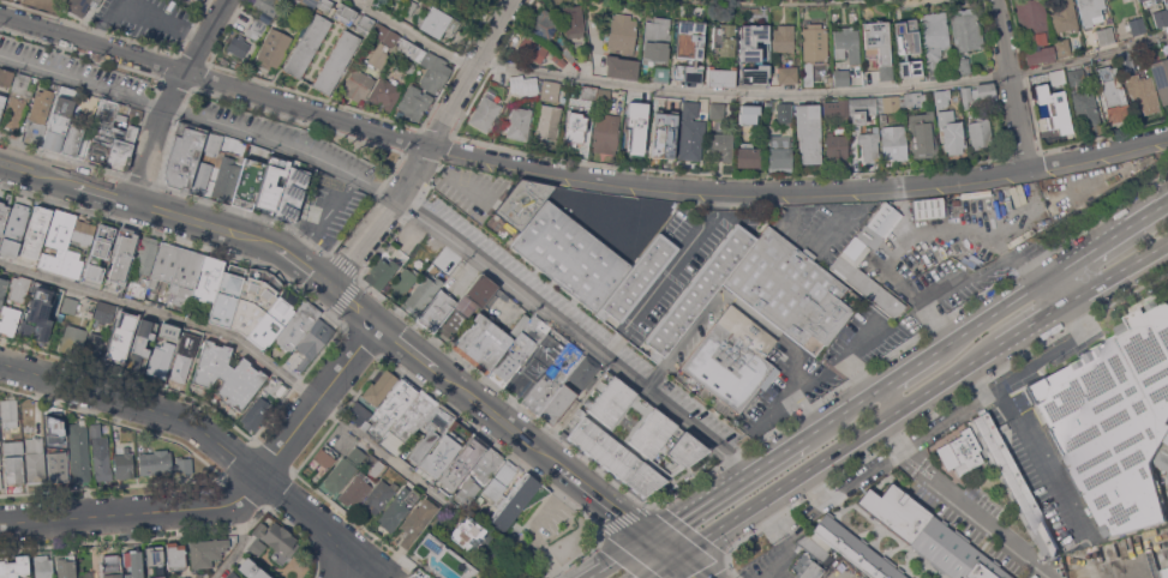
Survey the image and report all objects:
road: (654, 0)
building: (1139, 0)
building: (1156, 0)
building: (198, 1)
road: (366, 2)
building: (309, 4)
road: (761, 4)
building: (79, 5)
building: (325, 5)
building: (268, 6)
building: (1167, 6)
building: (1091, 11)
building: (345, 13)
building: (1065, 17)
building: (1161, 17)
building: (433, 20)
building: (573, 20)
building: (545, 23)
building: (365, 24)
building: (1137, 25)
building: (257, 29)
building: (966, 29)
building: (1037, 31)
building: (622, 32)
building: (384, 34)
road: (413, 34)
building: (1106, 35)
building: (904, 36)
building: (934, 36)
building: (784, 38)
building: (657, 40)
building: (723, 40)
building: (753, 42)
building: (689, 43)
building: (815, 43)
building: (307, 44)
building: (847, 44)
building: (238, 46)
building: (879, 46)
building: (1062, 47)
building: (274, 48)
building: (532, 49)
building: (412, 50)
building: (582, 54)
building: (379, 55)
building: (569, 55)
building: (335, 60)
building: (558, 60)
building: (1127, 62)
building: (963, 66)
building: (622, 67)
building: (435, 72)
building: (783, 73)
building: (910, 73)
building: (688, 74)
building: (755, 74)
building: (660, 76)
building: (720, 76)
building: (6, 77)
building: (840, 77)
road: (214, 78)
building: (1056, 78)
building: (1161, 78)
building: (358, 84)
road: (1010, 84)
building: (523, 85)
building: (550, 90)
building: (385, 92)
building: (491, 92)
building: (588, 92)
building: (1143, 92)
road: (168, 94)
building: (604, 94)
road: (823, 94)
building: (977, 94)
building: (1114, 95)
building: (914, 98)
building: (941, 98)
building: (18, 100)
building: (1083, 100)
building: (1, 102)
building: (415, 102)
building: (890, 103)
building: (768, 104)
building: (1056, 108)
building: (832, 109)
building: (717, 110)
building: (861, 112)
building: (485, 113)
building: (748, 114)
building: (38, 115)
building: (59, 118)
building: (520, 124)
building: (549, 124)
building: (634, 126)
building: (574, 130)
building: (952, 131)
building: (690, 132)
building: (808, 132)
building: (981, 132)
building: (605, 133)
building: (664, 133)
building: (922, 134)
building: (110, 137)
building: (780, 138)
building: (73, 139)
building: (227, 142)
building: (893, 142)
building: (212, 143)
road: (427, 144)
building: (723, 145)
building: (869, 145)
building: (835, 146)
building: (264, 153)
building: (182, 155)
building: (749, 156)
road: (37, 170)
building: (202, 176)
building: (227, 179)
building: (250, 182)
building: (272, 182)
road: (798, 189)
road: (104, 191)
building: (290, 193)
building: (522, 203)
road: (406, 207)
building: (928, 207)
building: (2, 216)
road: (833, 218)
building: (14, 229)
road: (915, 230)
building: (36, 231)
building: (84, 231)
road: (600, 234)
building: (1019, 237)
building: (58, 241)
road: (265, 243)
road: (1109, 243)
building: (389, 247)
building: (100, 251)
building: (124, 254)
building: (146, 254)
building: (570, 254)
road: (678, 255)
building: (850, 258)
building: (403, 259)
building: (72, 264)
building: (527, 269)
building: (178, 271)
building: (381, 272)
road: (1119, 273)
building: (208, 278)
building: (637, 278)
road: (960, 279)
building: (403, 283)
building: (137, 285)
building: (2, 288)
building: (19, 289)
building: (700, 289)
building: (792, 290)
building: (423, 291)
road: (1060, 291)
building: (40, 295)
building: (227, 295)
building: (254, 299)
building: (70, 305)
building: (468, 307)
building: (436, 309)
building: (104, 312)
road: (748, 312)
building: (583, 313)
road: (995, 315)
building: (10, 320)
building: (130, 320)
building: (269, 321)
building: (294, 324)
building: (36, 326)
road: (1034, 326)
building: (169, 331)
building: (190, 336)
building: (73, 339)
road: (240, 341)
building: (312, 341)
building: (95, 343)
building: (483, 343)
building: (140, 344)
building: (523, 345)
road: (413, 348)
building: (118, 349)
road: (846, 357)
building: (642, 359)
building: (731, 359)
building: (161, 360)
building: (538, 363)
building: (182, 365)
road: (914, 368)
building: (585, 372)
building: (226, 373)
building: (553, 379)
building: (272, 383)
building: (381, 386)
building: (264, 395)
road: (887, 403)
building: (558, 405)
road: (771, 407)
building: (393, 408)
road: (845, 410)
building: (10, 413)
building: (359, 414)
building: (252, 415)
building: (1114, 419)
road: (505, 421)
building: (409, 422)
building: (55, 427)
road: (198, 429)
building: (431, 433)
building: (630, 436)
road: (1041, 444)
building: (13, 447)
building: (474, 450)
building: (443, 451)
building: (79, 452)
building: (101, 453)
road: (838, 453)
building: (327, 454)
building: (959, 456)
building: (1163, 457)
building: (0, 459)
building: (36, 460)
building: (124, 462)
building: (163, 463)
building: (487, 464)
building: (58, 466)
building: (375, 466)
building: (345, 469)
building: (14, 470)
building: (1167, 471)
building: (451, 476)
building: (0, 480)
building: (1167, 480)
building: (1017, 484)
building: (497, 488)
road: (729, 488)
building: (357, 489)
building: (467, 492)
building: (378, 496)
road: (230, 500)
road: (610, 502)
building: (516, 504)
road: (962, 505)
building: (397, 508)
building: (417, 520)
road: (537, 523)
building: (929, 534)
building: (469, 536)
building: (277, 537)
traffic signals: (655, 538)
road: (240, 541)
building: (814, 546)
building: (254, 548)
road: (666, 548)
building: (855, 549)
building: (206, 552)
building: (175, 555)
building: (442, 555)
road: (622, 558)
traffic signals: (678, 558)
building: (155, 561)
building: (133, 564)
building: (275, 564)
building: (109, 565)
building: (14, 566)
building: (43, 566)
building: (65, 566)
road: (664, 567)
road: (690, 567)
building: (250, 570)
building: (810, 570)
road: (1132, 572)
building: (1164, 572)
road: (347, 573)
building: (85, 574)
building: (233, 576)
building: (429, 577)
park: (610, 577)

